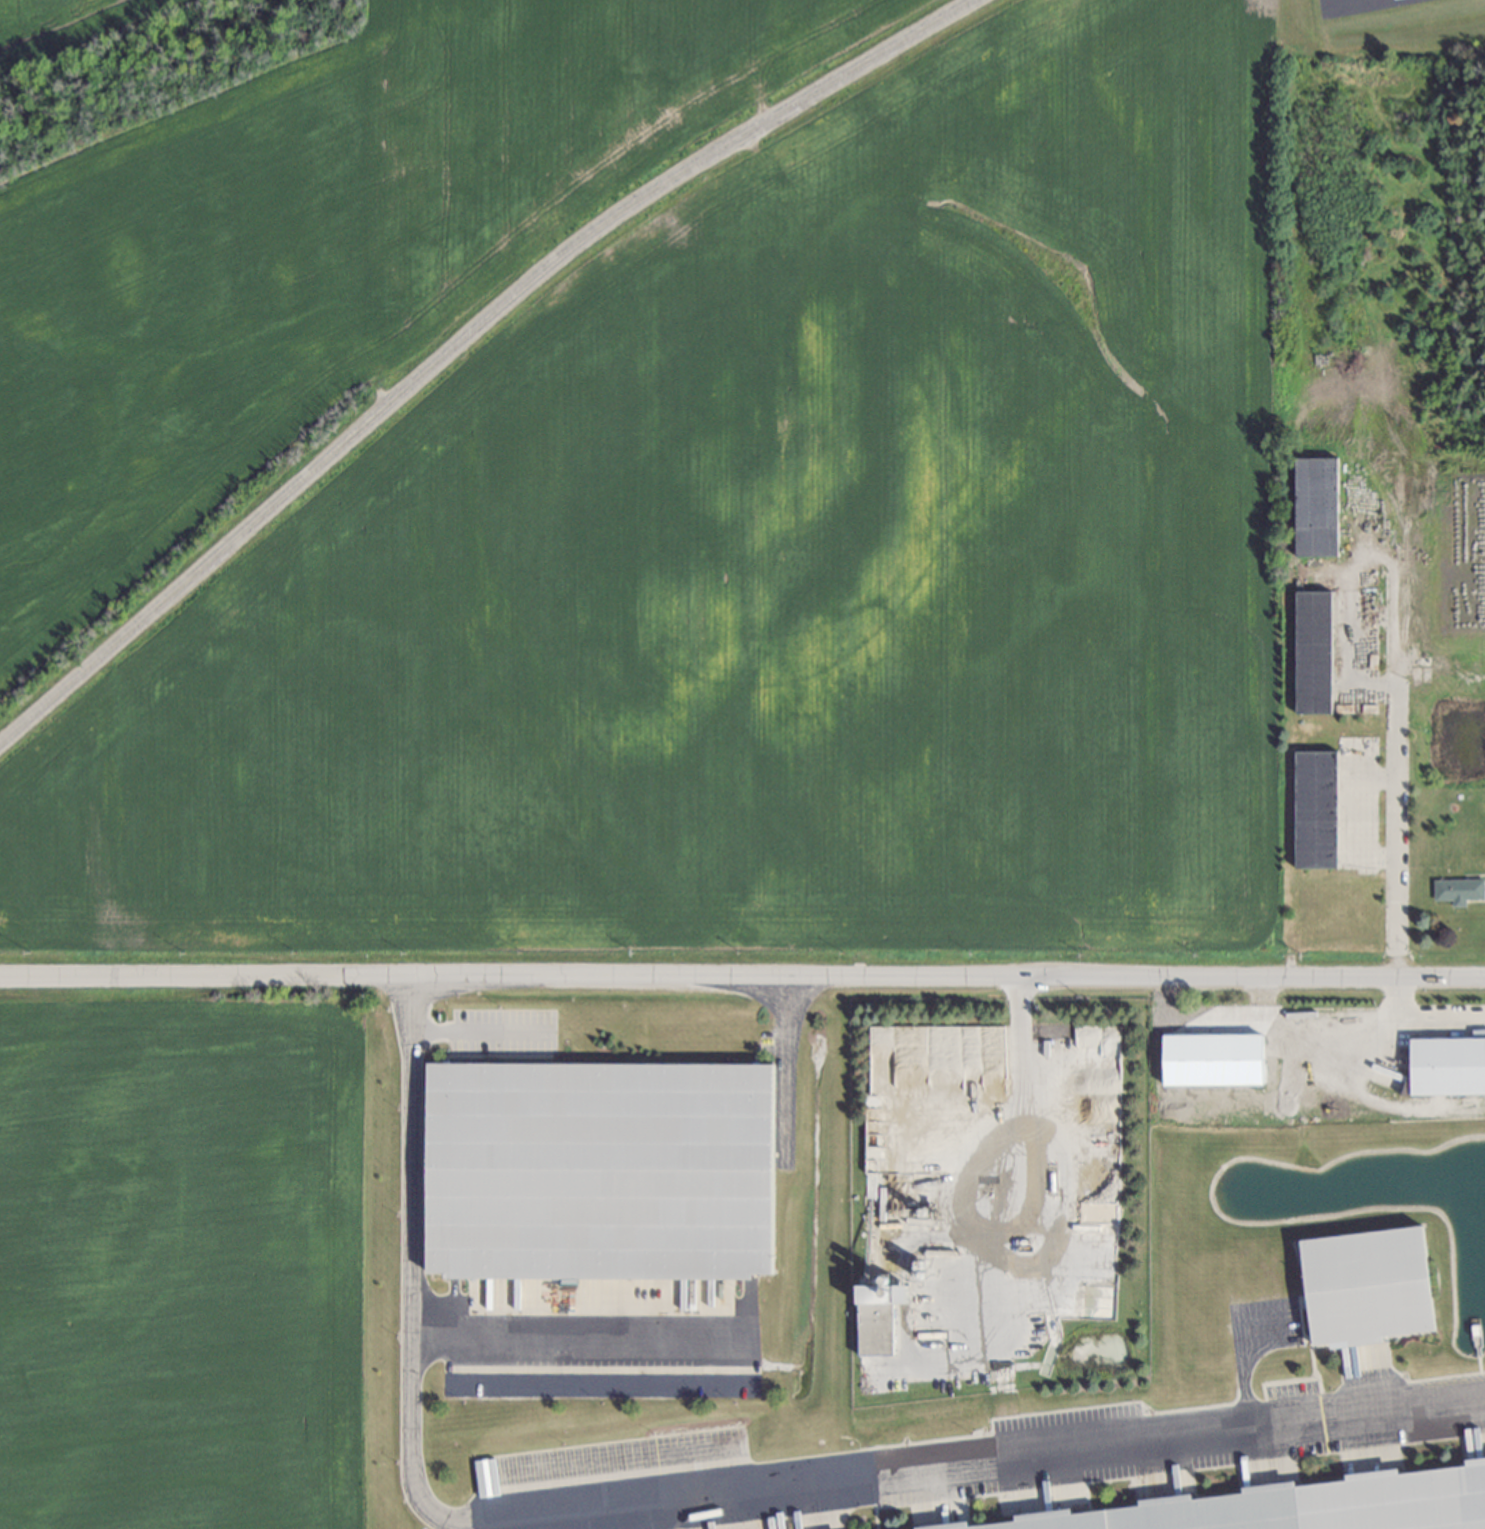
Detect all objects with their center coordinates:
airport taxiway: (1323, 3)
airport runway: (1340, 3)
airport: (1372, 22)
road: (468, 343)
building: (1320, 507)
building: (1314, 652)
road: (1354, 680)
road: (1375, 778)
building: (1317, 811)
road: (1359, 820)
road: (1393, 824)
building: (1459, 889)
road: (742, 976)
road: (1393, 1005)
road: (1349, 1033)
road: (476, 1034)
parking lot: (498, 1035)
building: (881, 1046)
building: (1214, 1059)
building: (1448, 1068)
road: (778, 1157)
building: (600, 1168)
quarry: (987, 1195)
road: (1018, 1195)
building: (1371, 1285)
building: (863, 1307)
road: (590, 1338)
road: (1235, 1351)
road: (683, 1495)
building: (1309, 1507)

